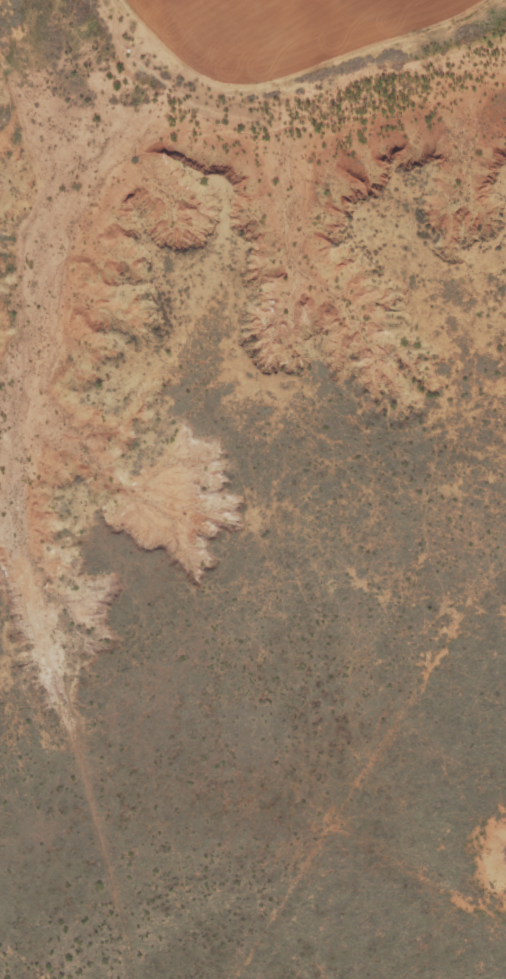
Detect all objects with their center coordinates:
river: (268, 121)

